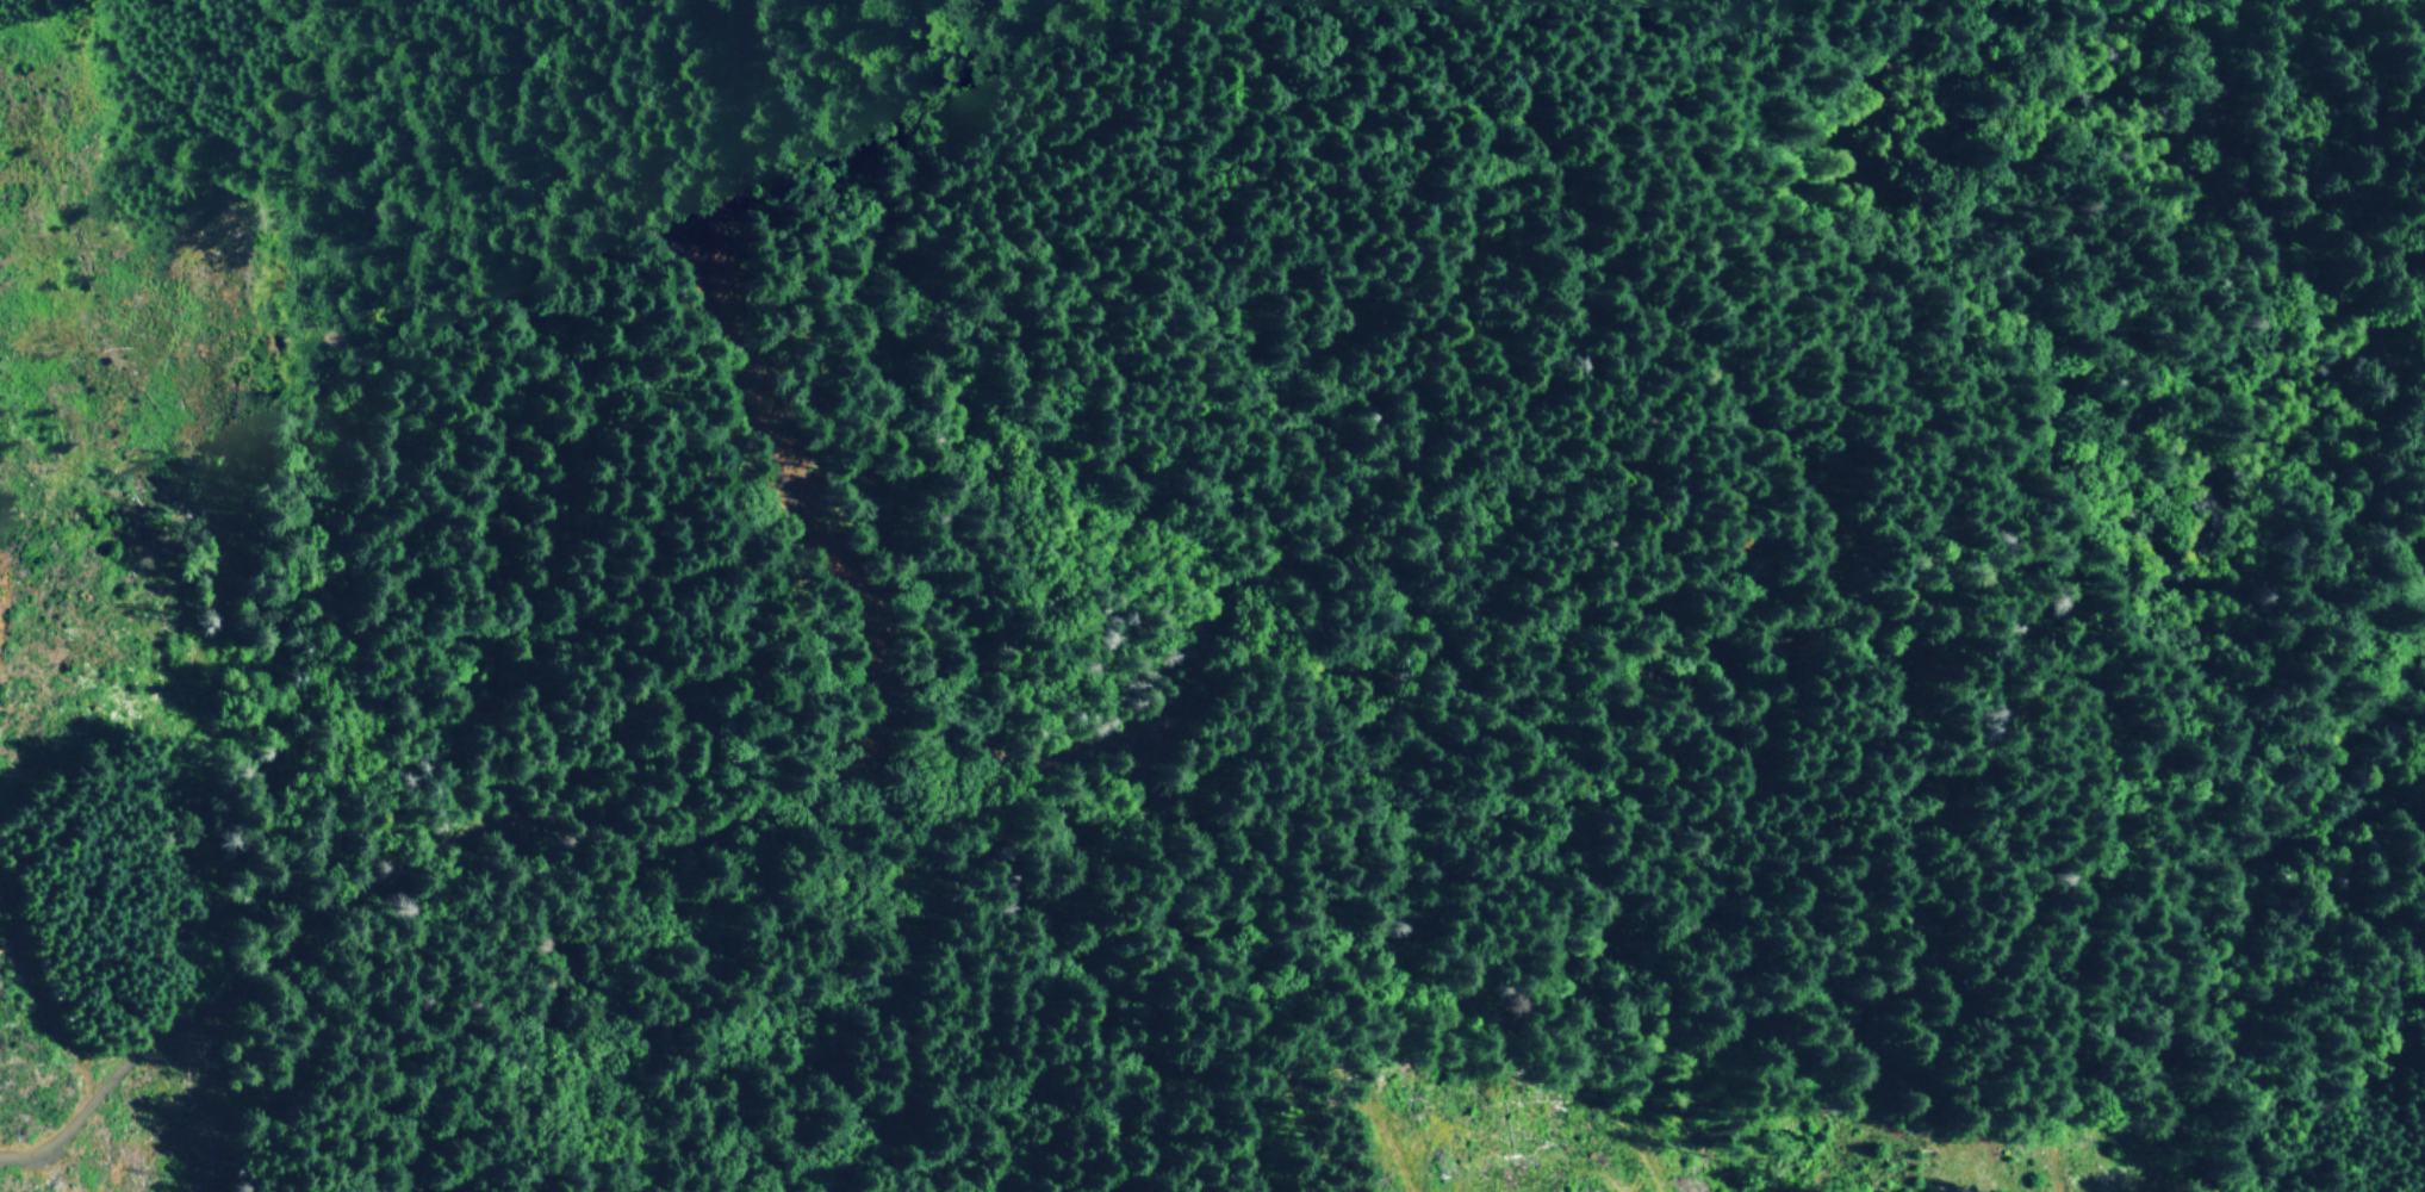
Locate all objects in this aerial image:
road: (1580, 701)

